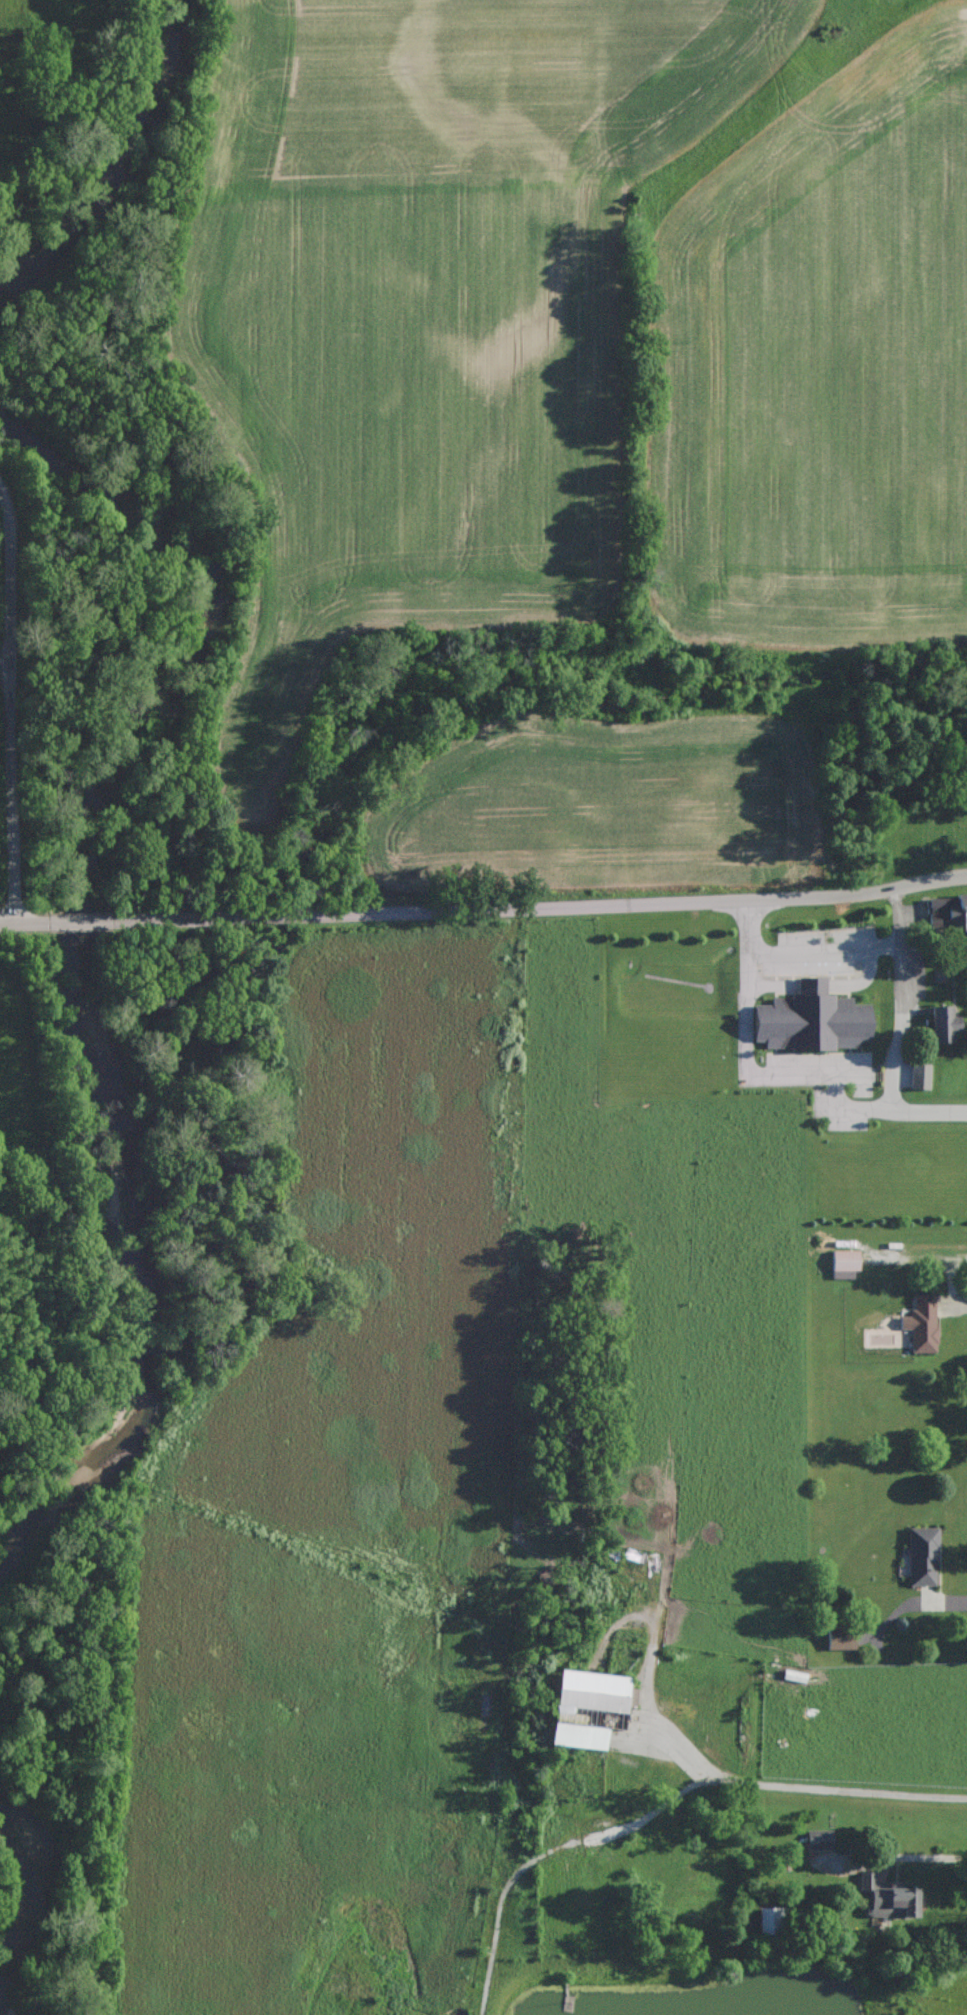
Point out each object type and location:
river: (109, 152)
road: (10, 706)
road: (551, 906)
building: (949, 912)
road: (90, 921)
road: (23, 923)
river: (82, 943)
road: (852, 949)
building: (812, 1019)
building: (944, 1023)
road: (900, 1027)
road: (783, 1074)
building: (920, 1076)
building: (845, 1263)
road: (952, 1304)
building: (924, 1323)
building: (923, 1556)
road: (945, 1602)
building: (842, 1639)
building: (594, 1692)
building: (579, 1735)
road: (802, 1790)
building: (820, 1839)
road: (547, 1852)
road: (914, 1860)
river: (33, 1885)
building: (888, 1897)
building: (769, 1920)

